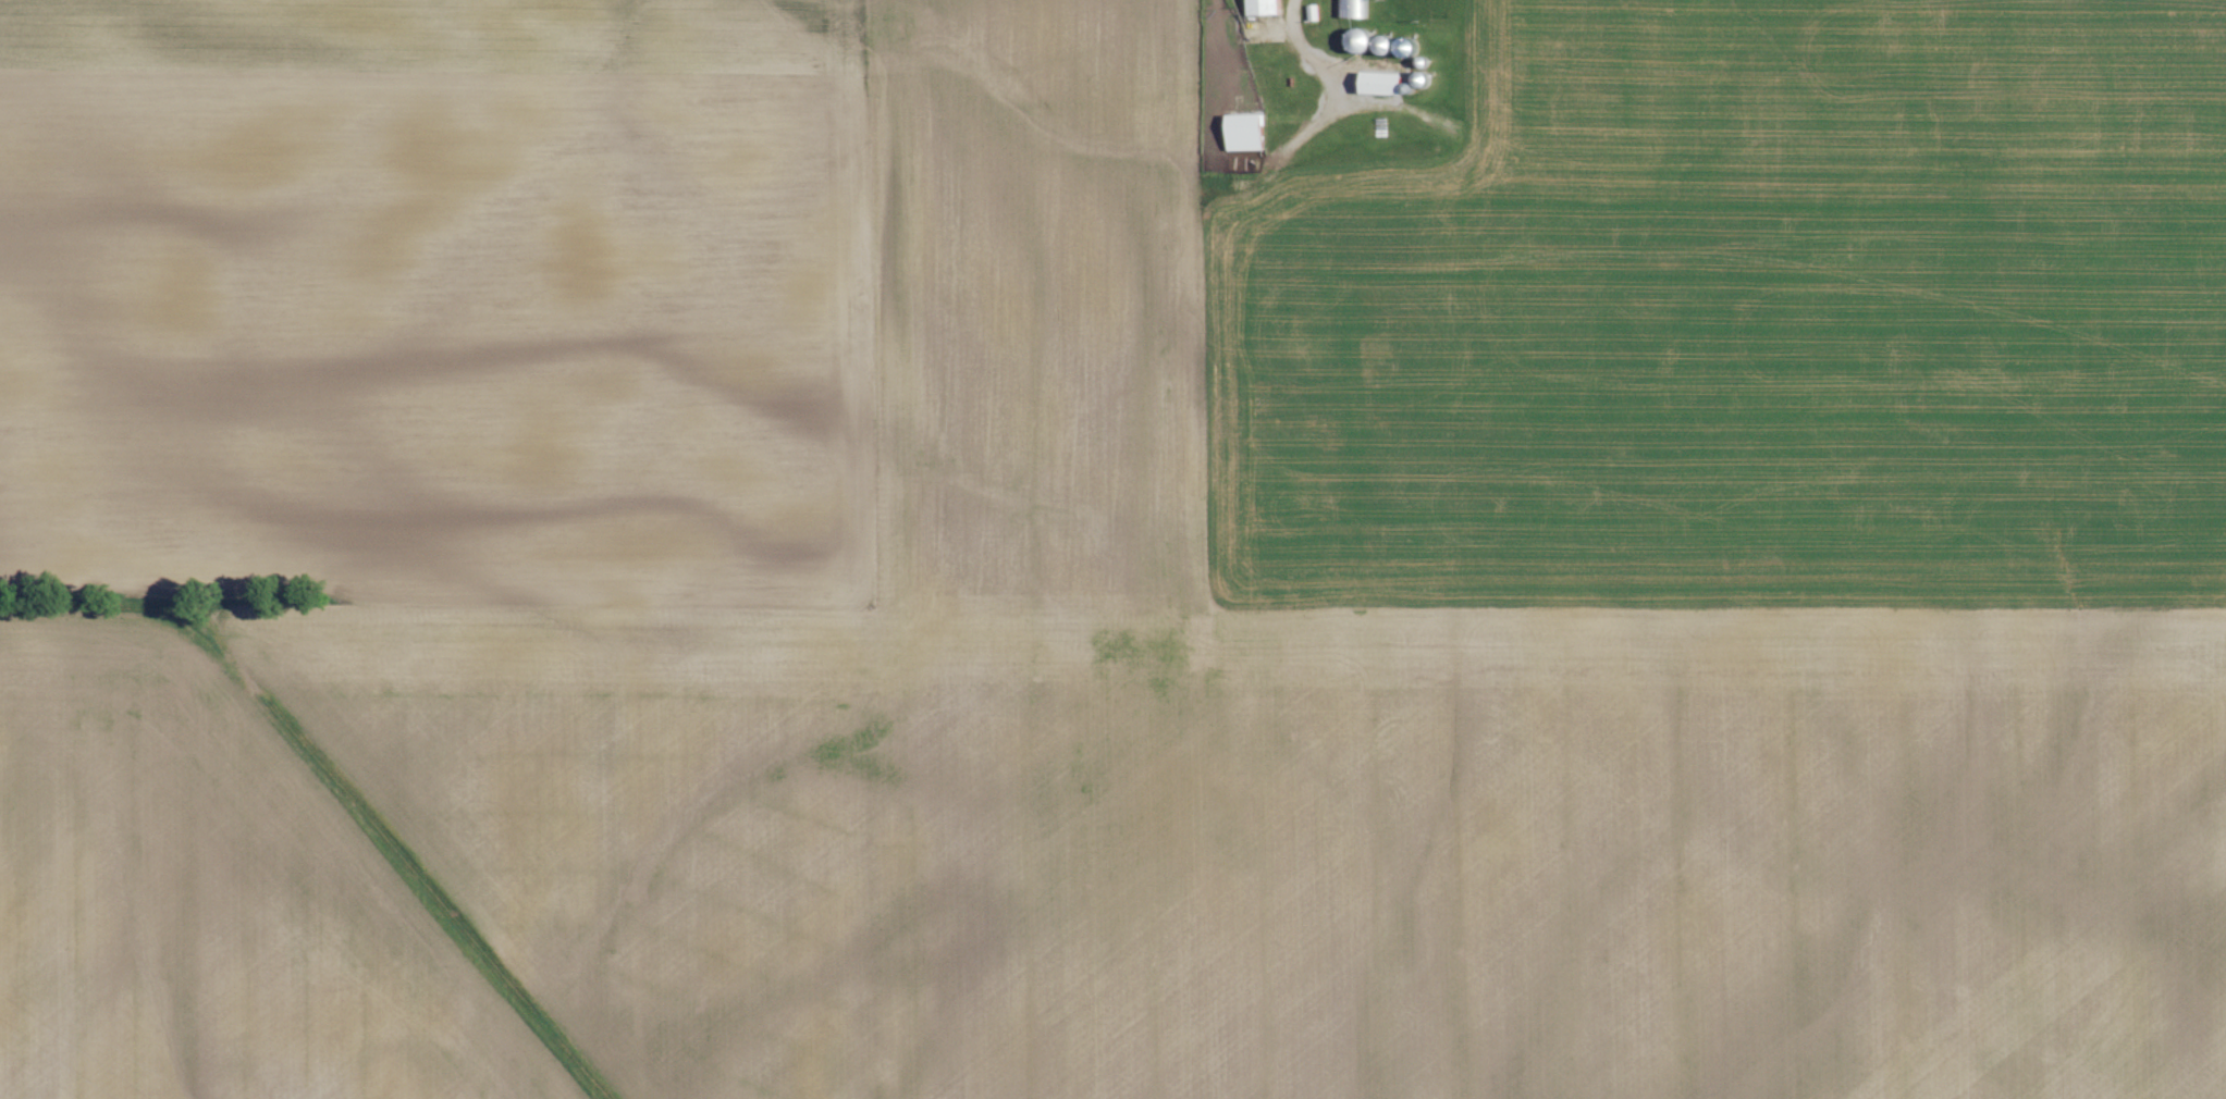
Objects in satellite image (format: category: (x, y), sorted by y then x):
building: (1262, 8)
road: (1326, 76)
building: (1245, 134)

